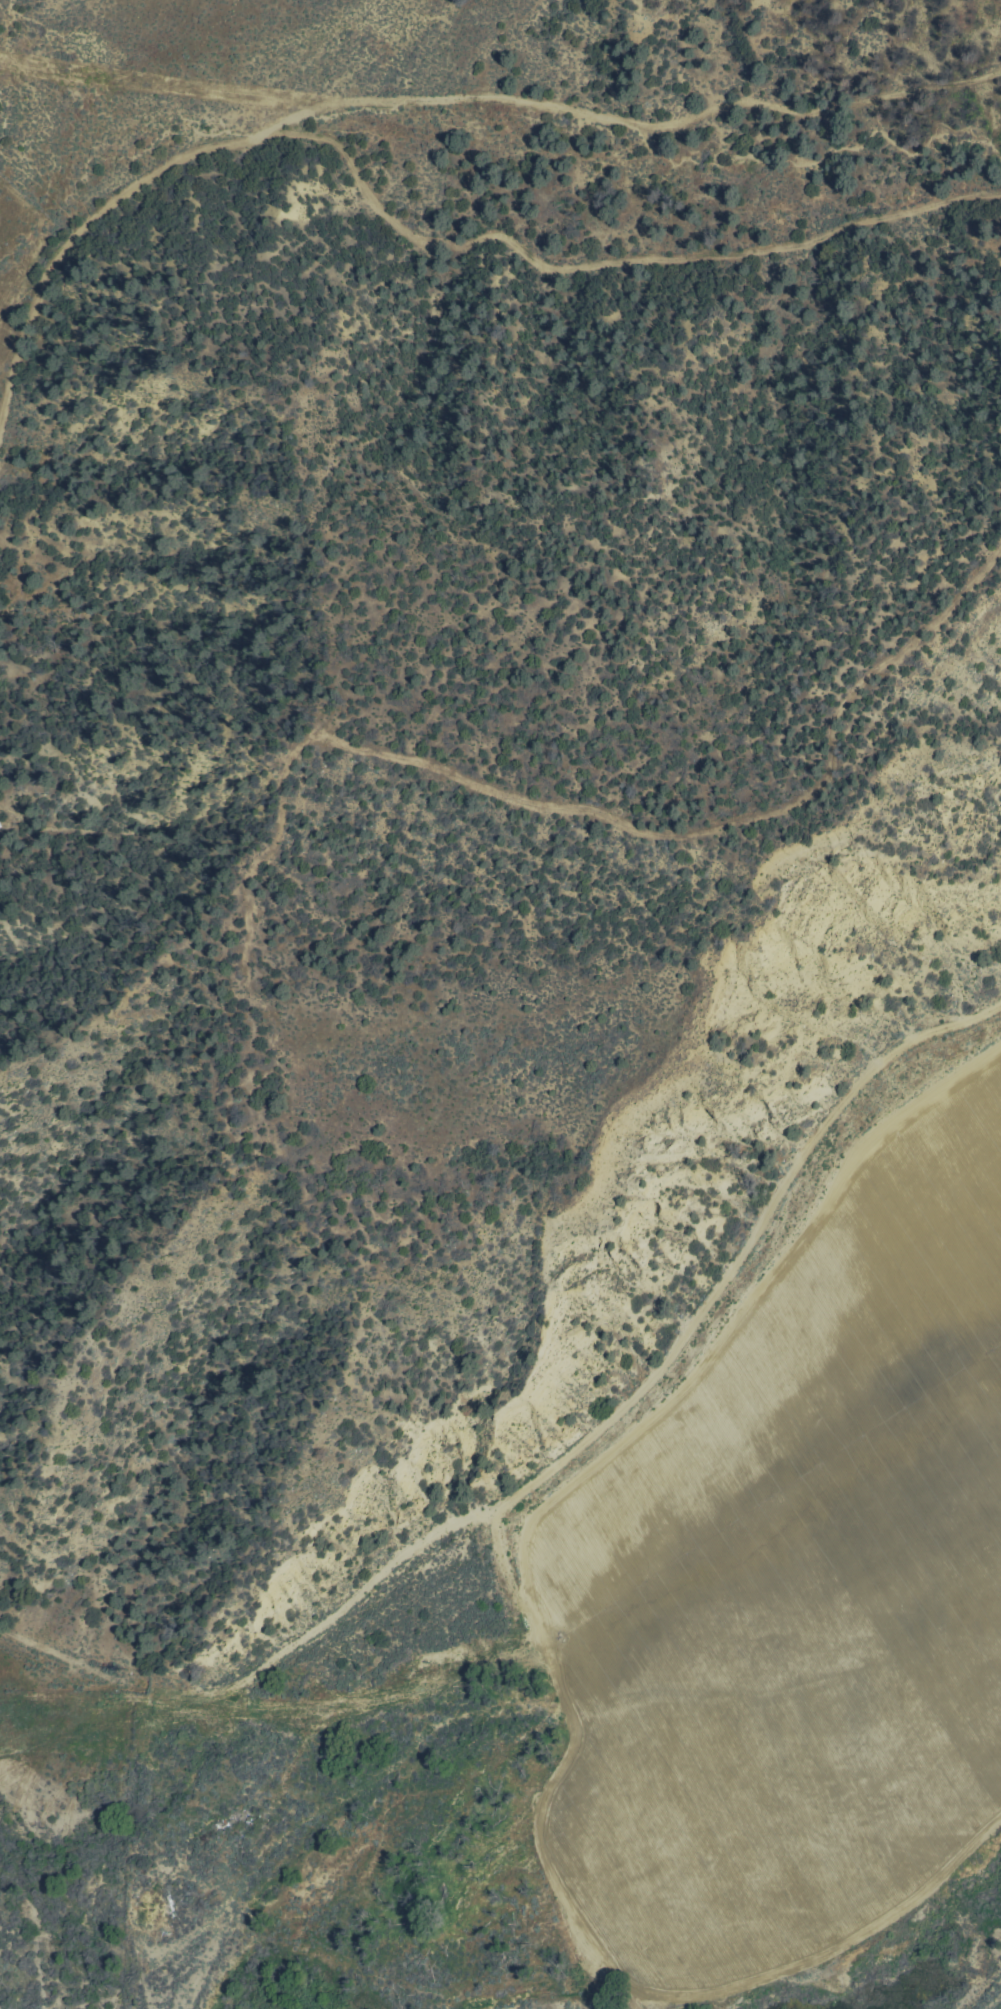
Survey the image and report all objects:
river: (795, 1932)

